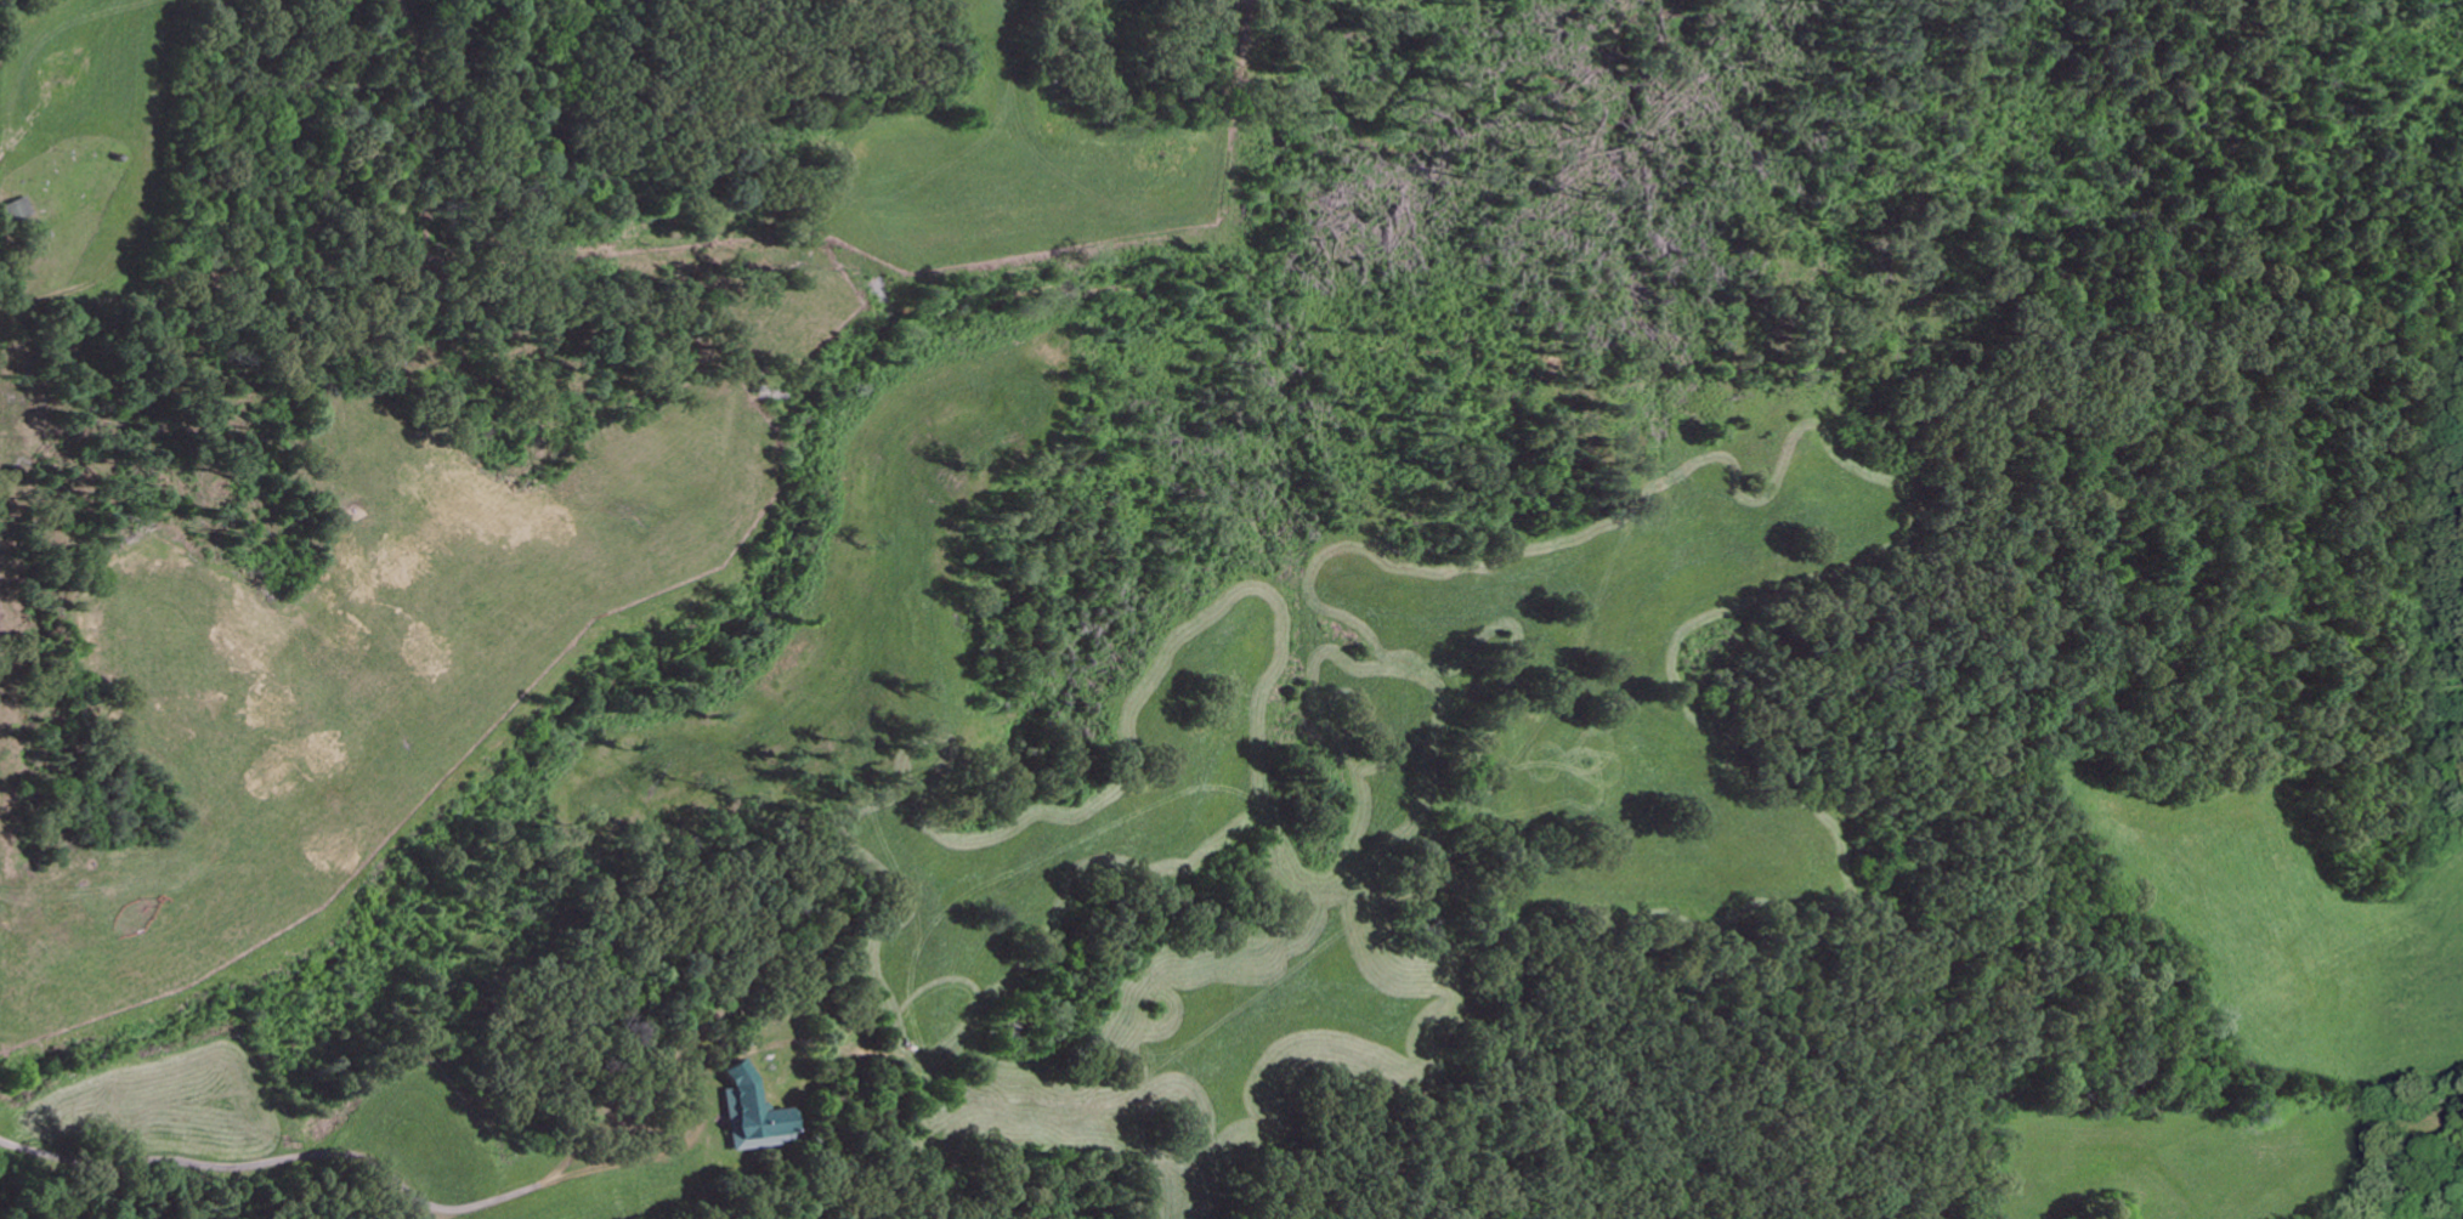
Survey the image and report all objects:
road: (1, 129)
building: (19, 211)
road: (683, 1133)
road: (284, 1157)

